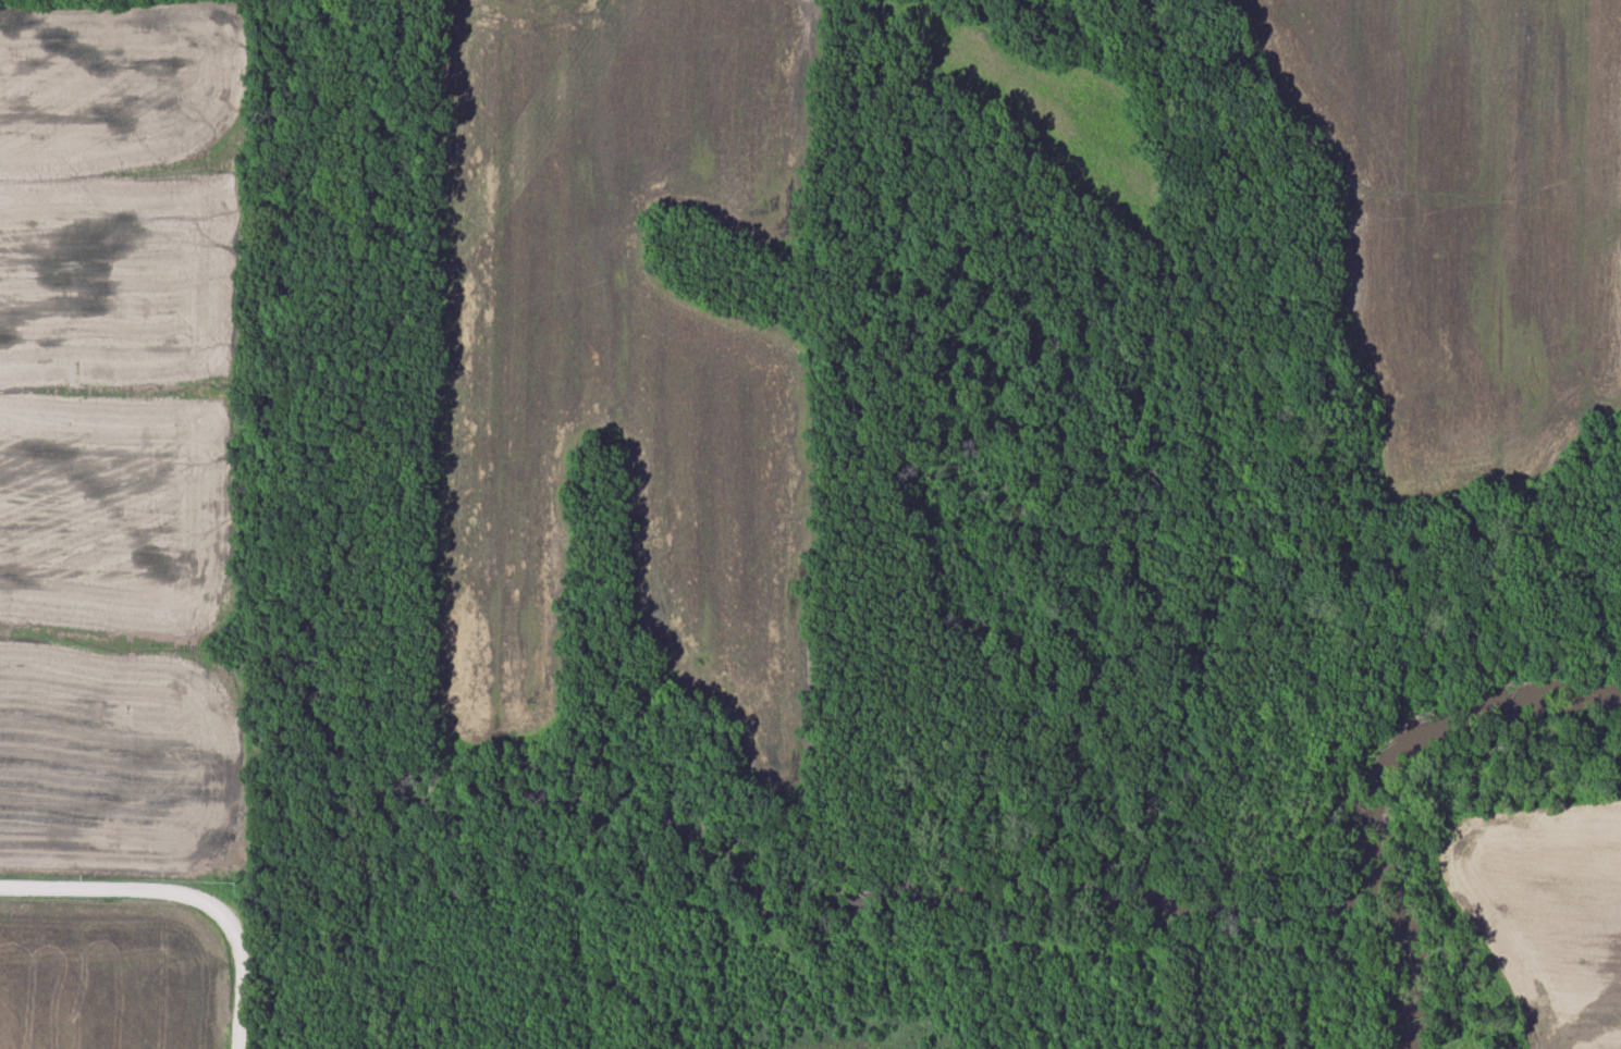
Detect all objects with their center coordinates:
river: (1380, 788)
road: (112, 896)
road: (241, 980)

